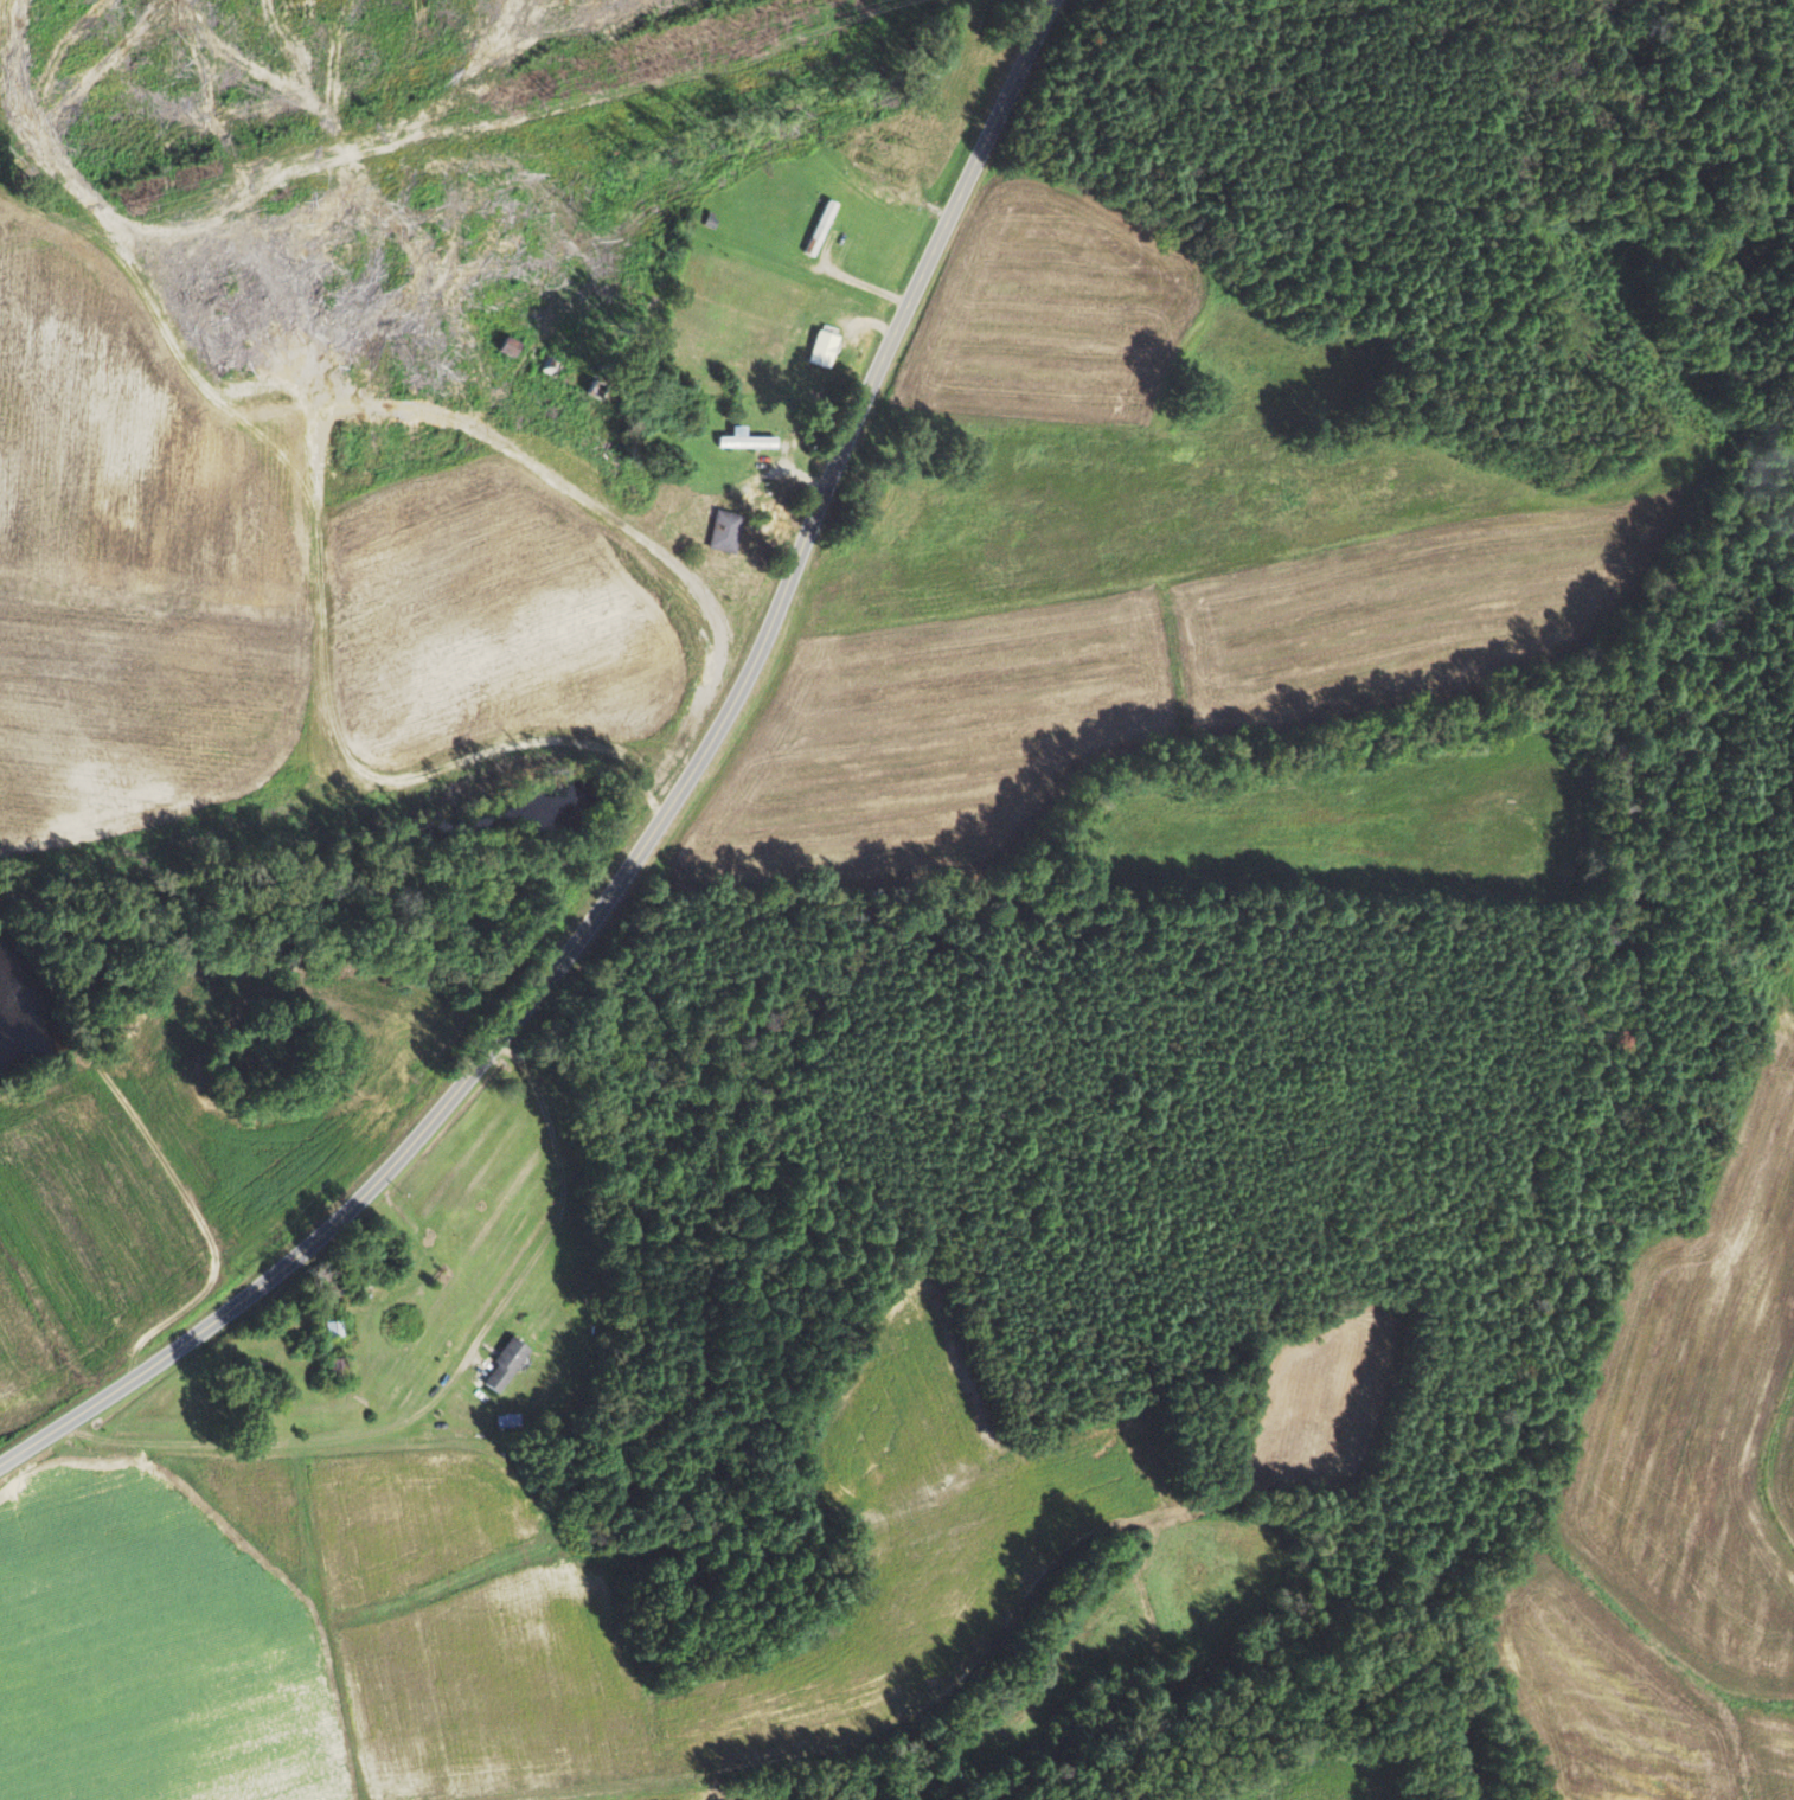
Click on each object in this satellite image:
power tower: (547, 87)
building: (884, 167)
road: (917, 204)
power tower: (135, 207)
building: (822, 226)
road: (866, 287)
building: (826, 347)
building: (749, 440)
building: (726, 530)
road: (654, 826)
building: (337, 1328)
building: (508, 1364)
road: (442, 1388)

